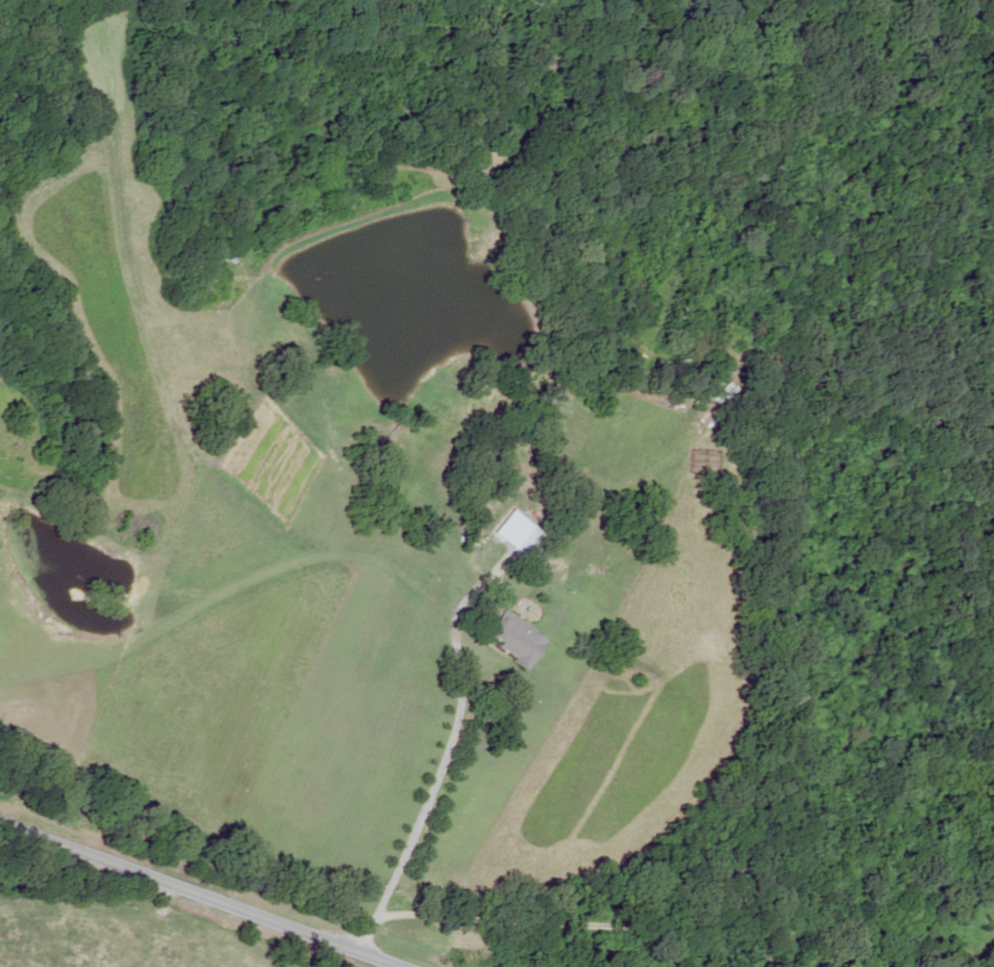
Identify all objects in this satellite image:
road: (593, 267)
building: (686, 313)
building: (519, 537)
building: (514, 638)
road: (773, 652)
road: (431, 776)
road: (200, 894)

